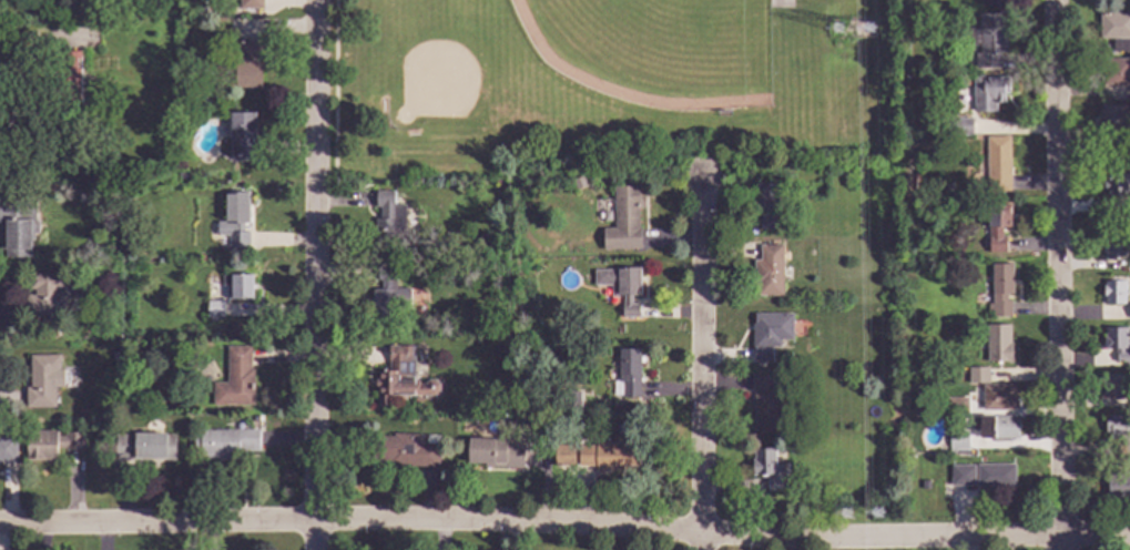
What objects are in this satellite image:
building: (992, 2)
building: (250, 4)
building: (85, 8)
power tower: (839, 31)
power tower: (869, 31)
building: (1116, 31)
building: (988, 40)
building: (903, 48)
park: (655, 49)
building: (247, 64)
building: (1114, 72)
road: (19, 79)
building: (68, 83)
building: (988, 93)
building: (957, 128)
building: (1113, 128)
building: (243, 137)
building: (916, 143)
building: (996, 165)
building: (181, 176)
building: (1116, 186)
building: (766, 205)
building: (605, 216)
building: (623, 220)
building: (234, 221)
building: (389, 221)
building: (17, 226)
building: (997, 227)
building: (442, 245)
building: (1112, 247)
building: (767, 272)
road: (1059, 274)
road: (316, 275)
building: (237, 286)
building: (620, 287)
building: (1000, 289)
building: (1113, 292)
building: (48, 295)
building: (387, 298)
building: (214, 309)
building: (442, 330)
building: (768, 334)
building: (998, 344)
building: (1117, 344)
road: (703, 353)
building: (627, 375)
building: (977, 375)
building: (400, 377)
building: (234, 380)
building: (41, 383)
building: (1114, 385)
building: (997, 398)
building: (569, 399)
building: (764, 400)
building: (956, 407)
building: (995, 427)
building: (1119, 431)
building: (957, 442)
building: (224, 444)
building: (50, 445)
building: (144, 448)
building: (8, 450)
building: (405, 450)
building: (495, 455)
building: (562, 456)
building: (605, 457)
building: (768, 469)
building: (961, 476)
building: (994, 476)
building: (924, 486)
building: (1118, 486)
power tower: (879, 511)
power tower: (847, 513)
road: (564, 523)
road: (703, 540)

